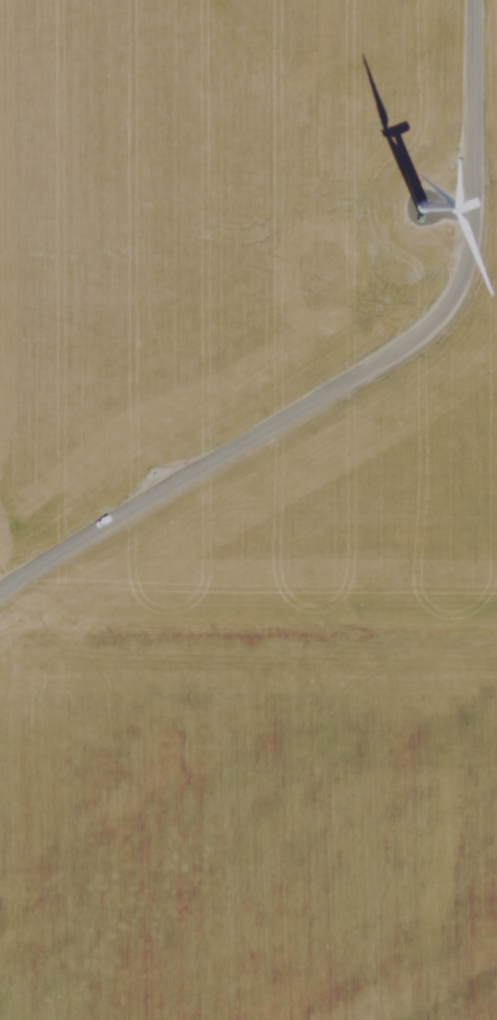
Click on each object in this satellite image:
wind turbine: (447, 205)
road: (355, 364)

